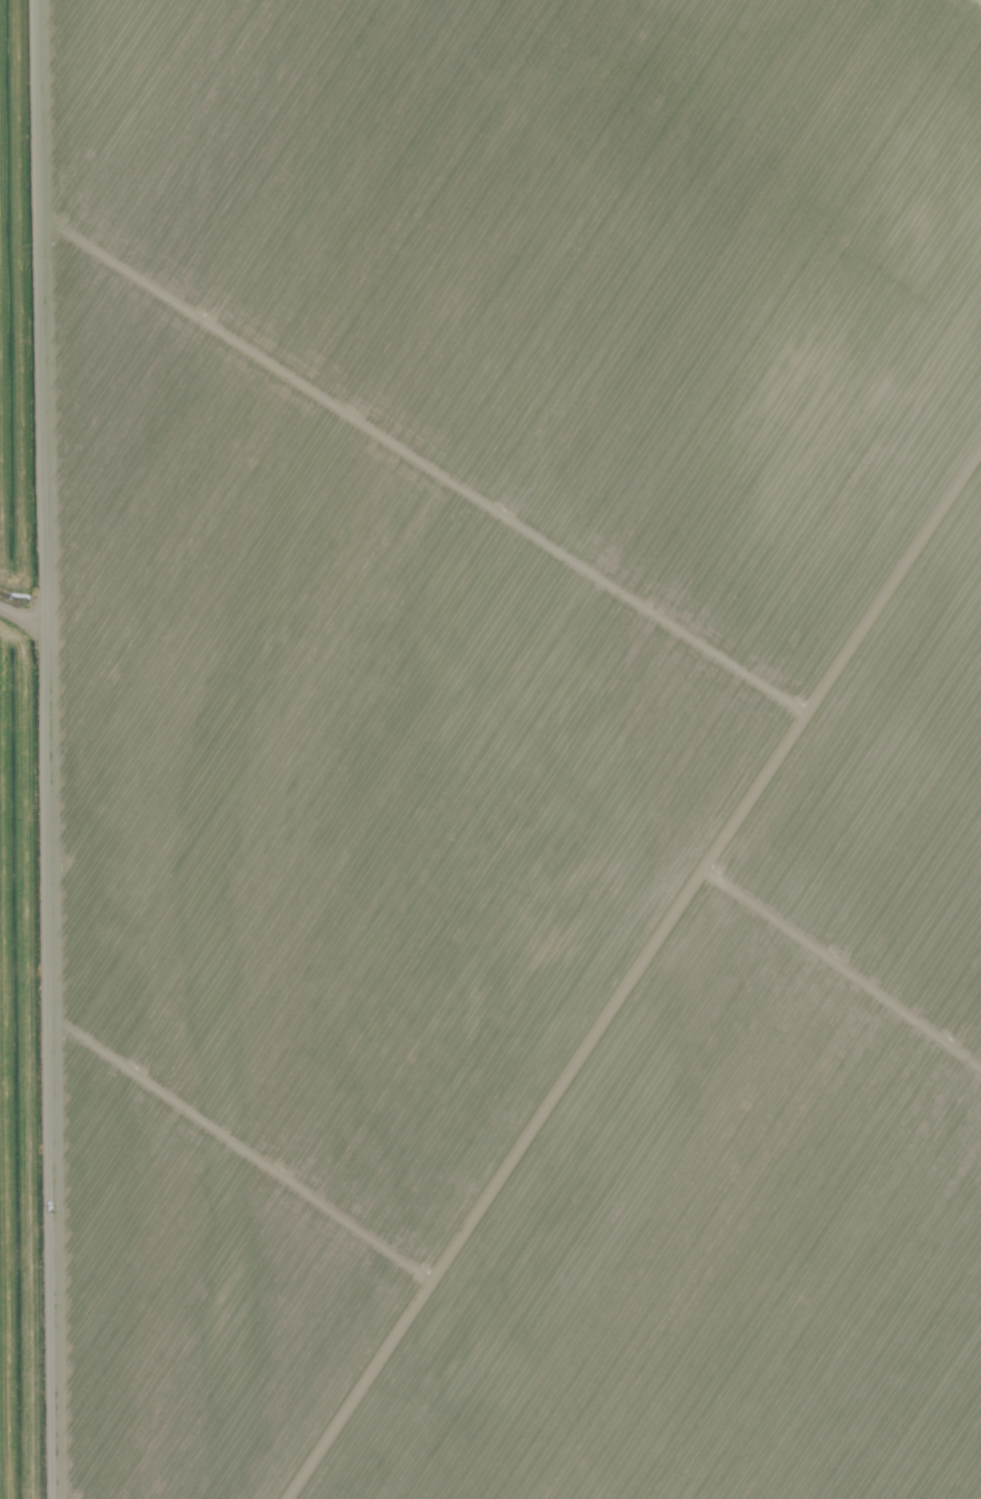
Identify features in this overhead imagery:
crop: (521, 746)
crop: (31, 796)

